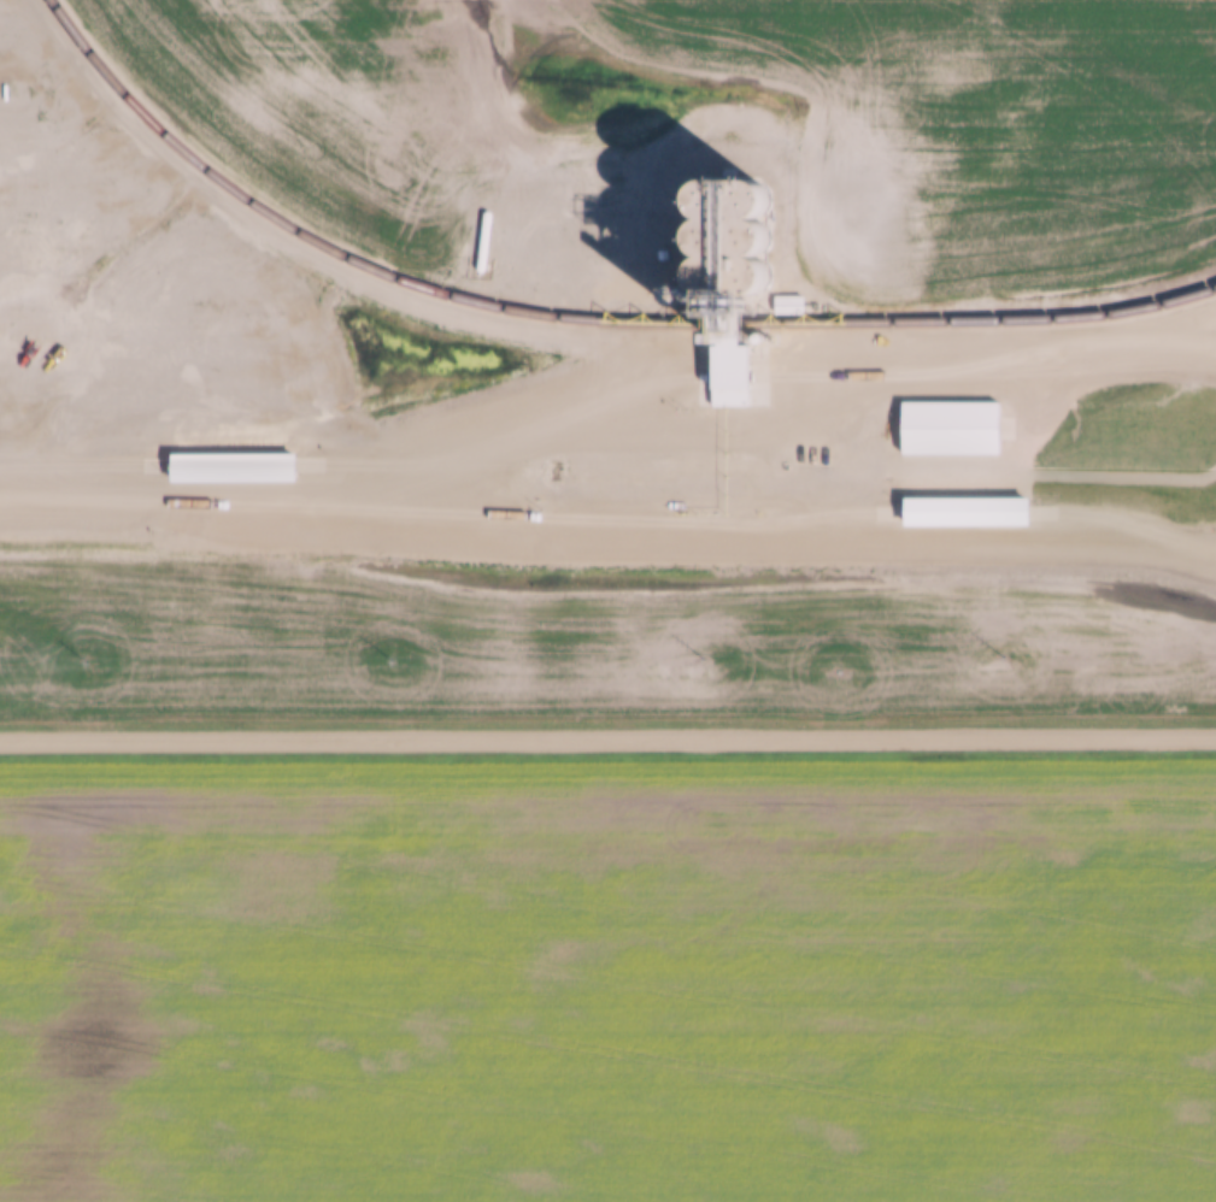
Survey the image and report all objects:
road: (607, 738)

